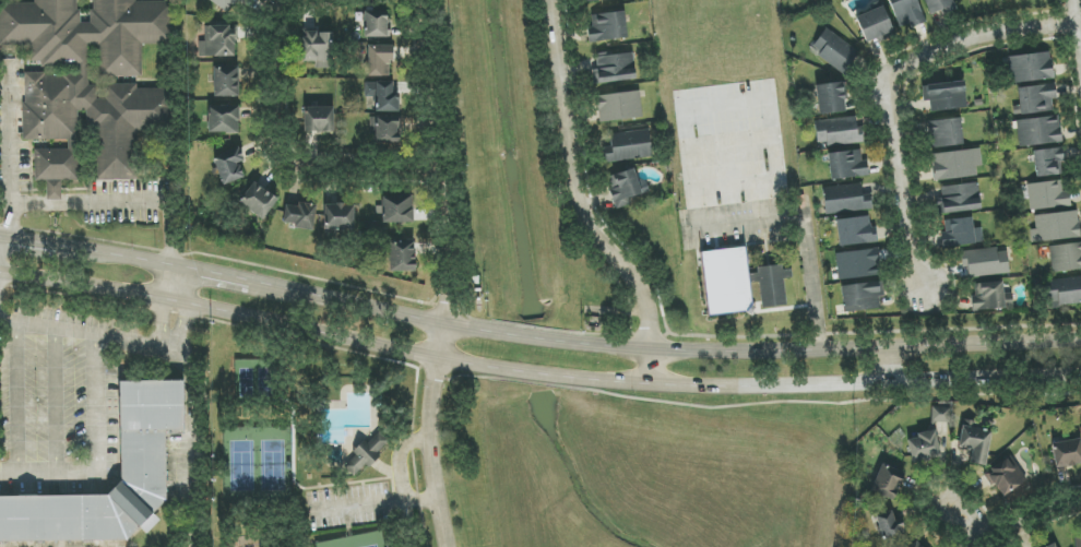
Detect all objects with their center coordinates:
building: (591, 0)
building: (226, 4)
building: (940, 7)
road: (1079, 8)
road: (413, 13)
building: (907, 13)
road: (1078, 20)
building: (376, 25)
building: (875, 25)
building: (606, 26)
building: (217, 43)
building: (318, 49)
building: (835, 51)
building: (379, 61)
building: (615, 67)
building: (1031, 68)
building: (84, 82)
building: (226, 82)
road: (886, 84)
building: (382, 96)
building: (946, 96)
building: (830, 98)
building: (1036, 98)
building: (618, 106)
building: (223, 119)
building: (319, 119)
building: (385, 130)
building: (836, 131)
building: (1038, 131)
building: (946, 133)
road: (275, 136)
road: (10, 140)
building: (628, 146)
building: (1048, 163)
building: (955, 164)
building: (847, 165)
building: (229, 166)
building: (626, 188)
building: (1048, 195)
building: (960, 198)
building: (845, 199)
building: (258, 201)
road: (107, 203)
road: (575, 203)
building: (395, 210)
building: (300, 215)
building: (338, 216)
road: (804, 222)
building: (1055, 226)
building: (855, 231)
building: (960, 233)
road: (27, 245)
building: (402, 257)
building: (1066, 258)
road: (115, 259)
building: (755, 260)
building: (985, 262)
building: (857, 264)
road: (212, 276)
building: (725, 281)
road: (169, 285)
building: (773, 286)
road: (180, 287)
road: (443, 289)
building: (1065, 292)
building: (862, 296)
building: (988, 296)
road: (162, 322)
road: (182, 330)
road: (662, 350)
road: (183, 359)
road: (889, 365)
road: (535, 373)
building: (941, 415)
building: (975, 442)
building: (927, 447)
road: (99, 451)
building: (1067, 453)
building: (144, 463)
road: (403, 475)
building: (1006, 476)
building: (887, 483)
road: (1032, 522)
road: (966, 525)
building: (890, 527)
building: (1078, 542)
building: (914, 544)
building: (1052, 545)

